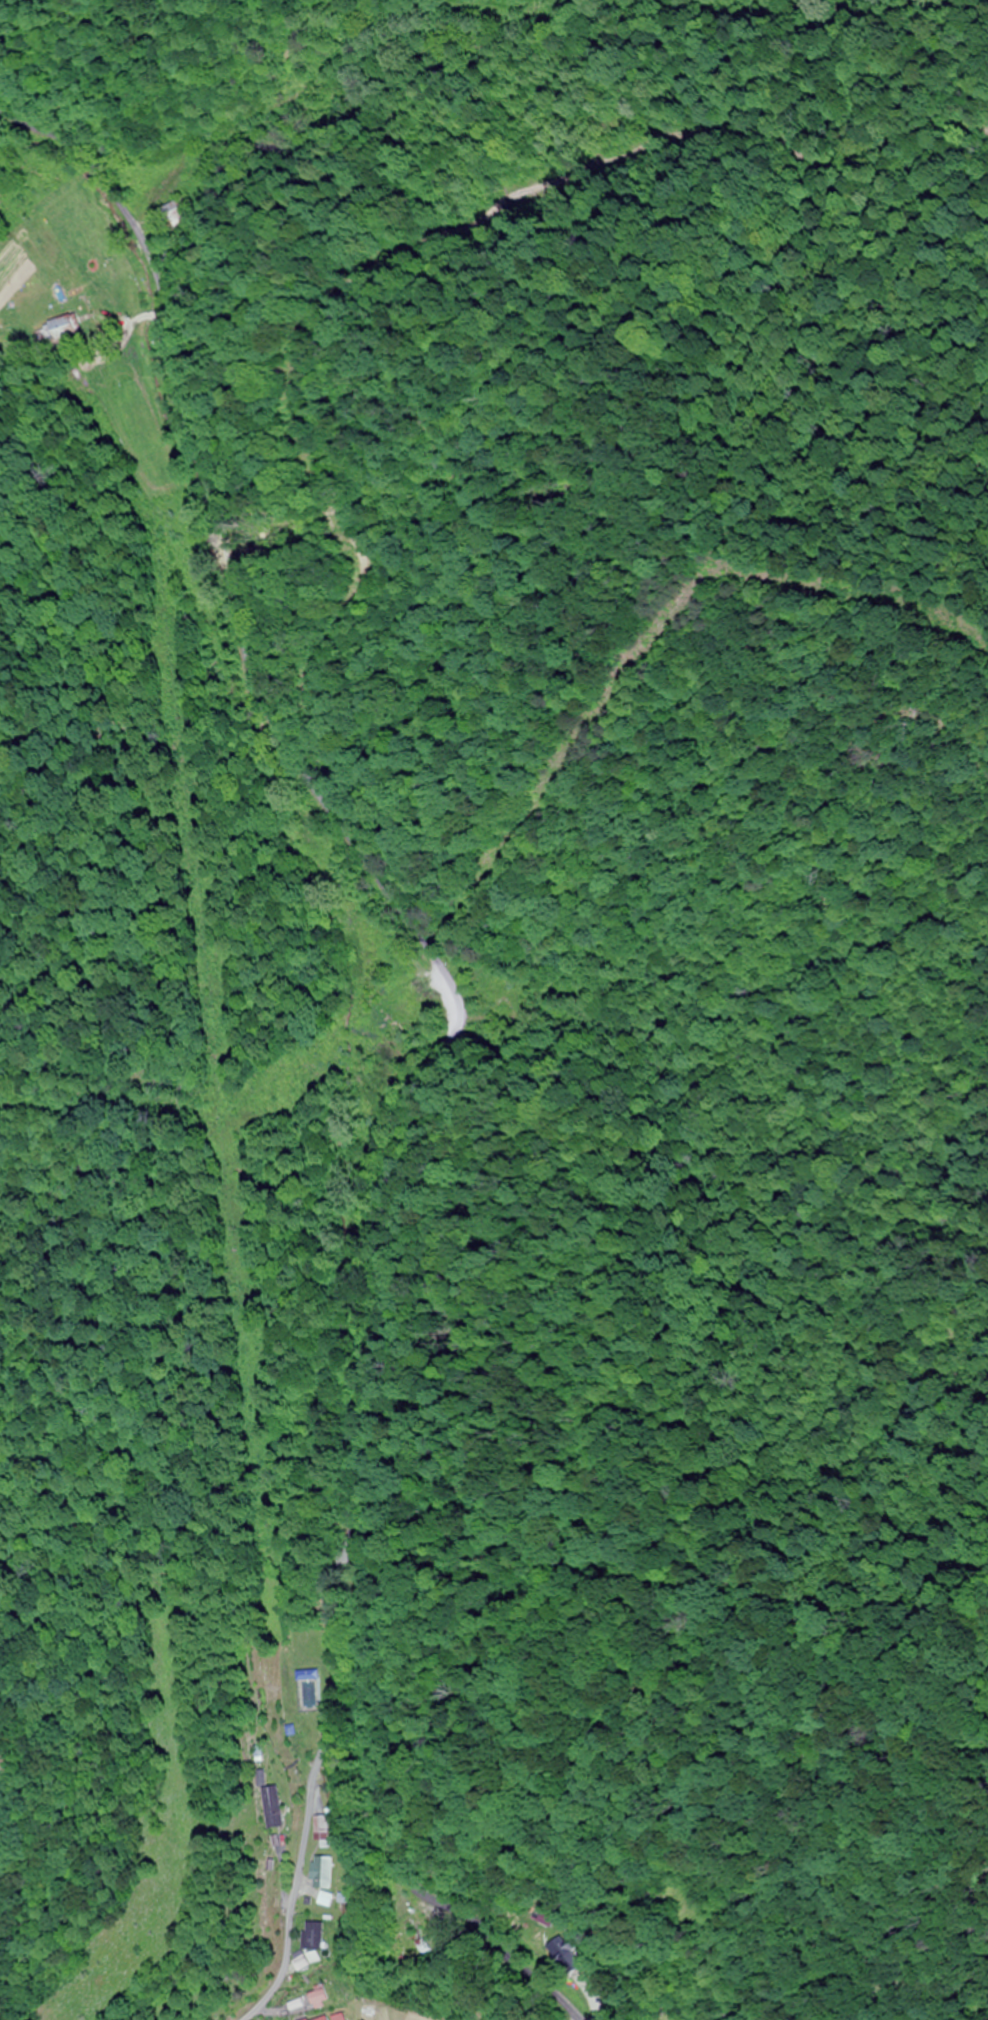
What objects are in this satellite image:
building: (177, 213)
building: (57, 329)
road: (451, 1042)
building: (309, 1676)
building: (273, 1809)
road: (307, 1830)
building: (324, 1831)
building: (324, 1873)
building: (554, 1920)
building: (317, 1937)
building: (427, 1940)
building: (572, 1956)
building: (321, 1998)
building: (334, 2018)

